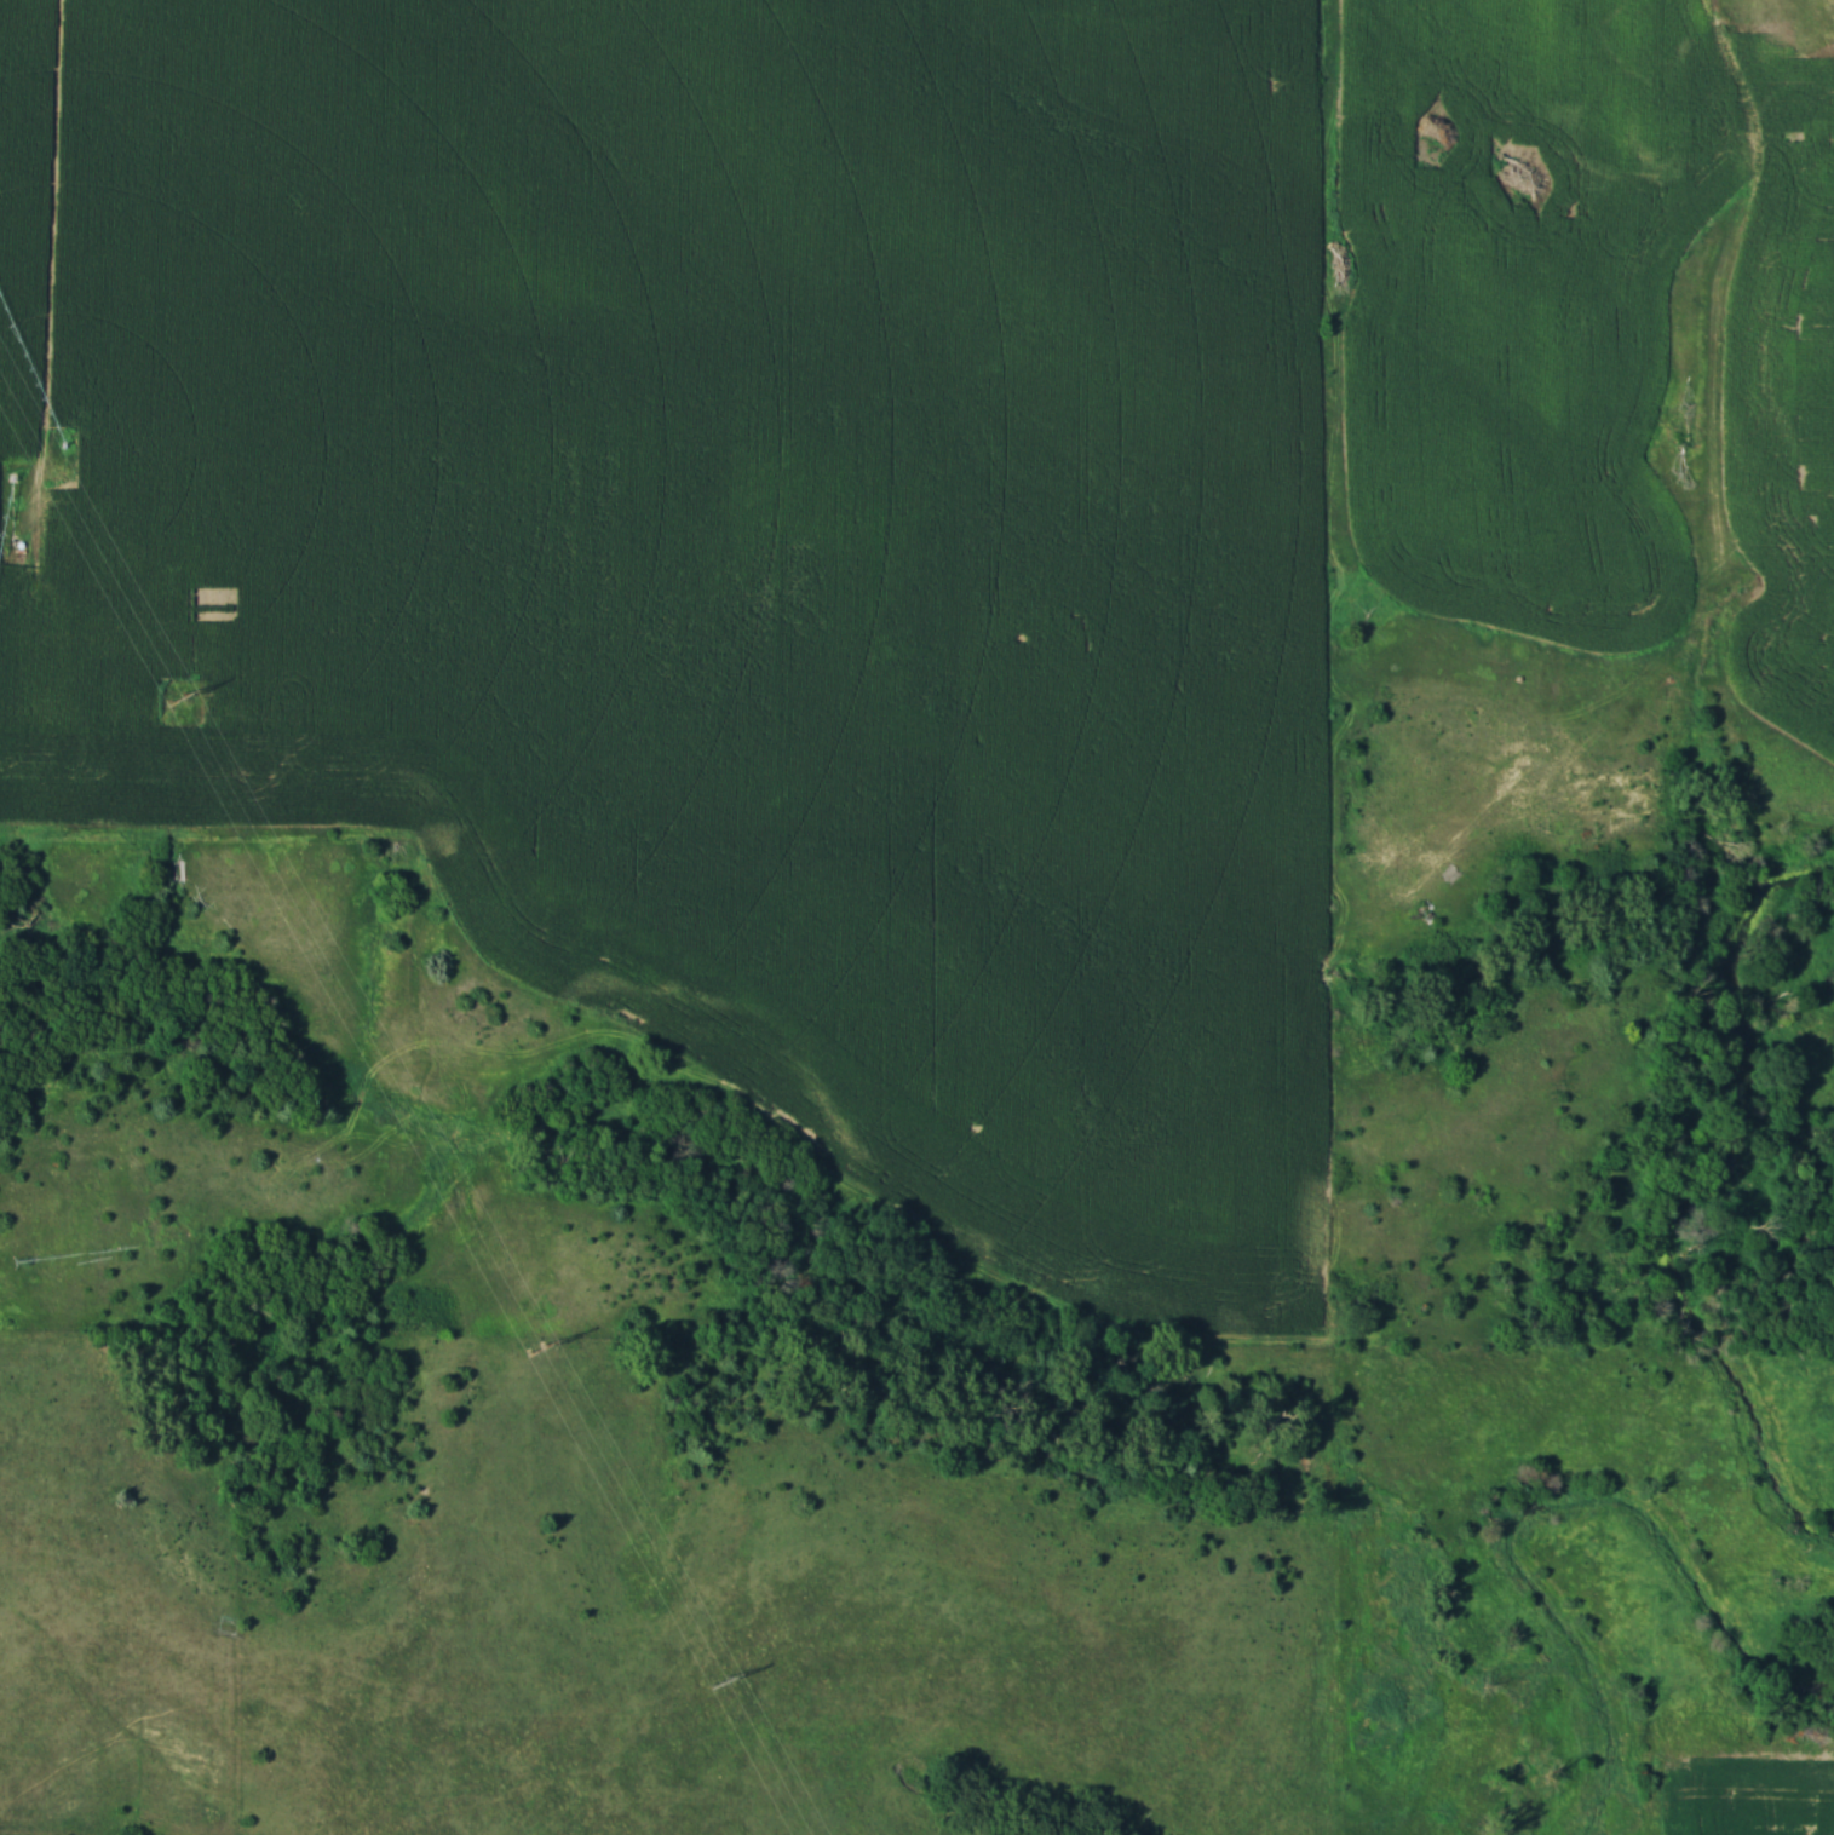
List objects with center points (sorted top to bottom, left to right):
power tower: (178, 703)
river: (1674, 1189)
power tower: (530, 1340)
river: (1545, 1506)
power tower: (717, 1680)

